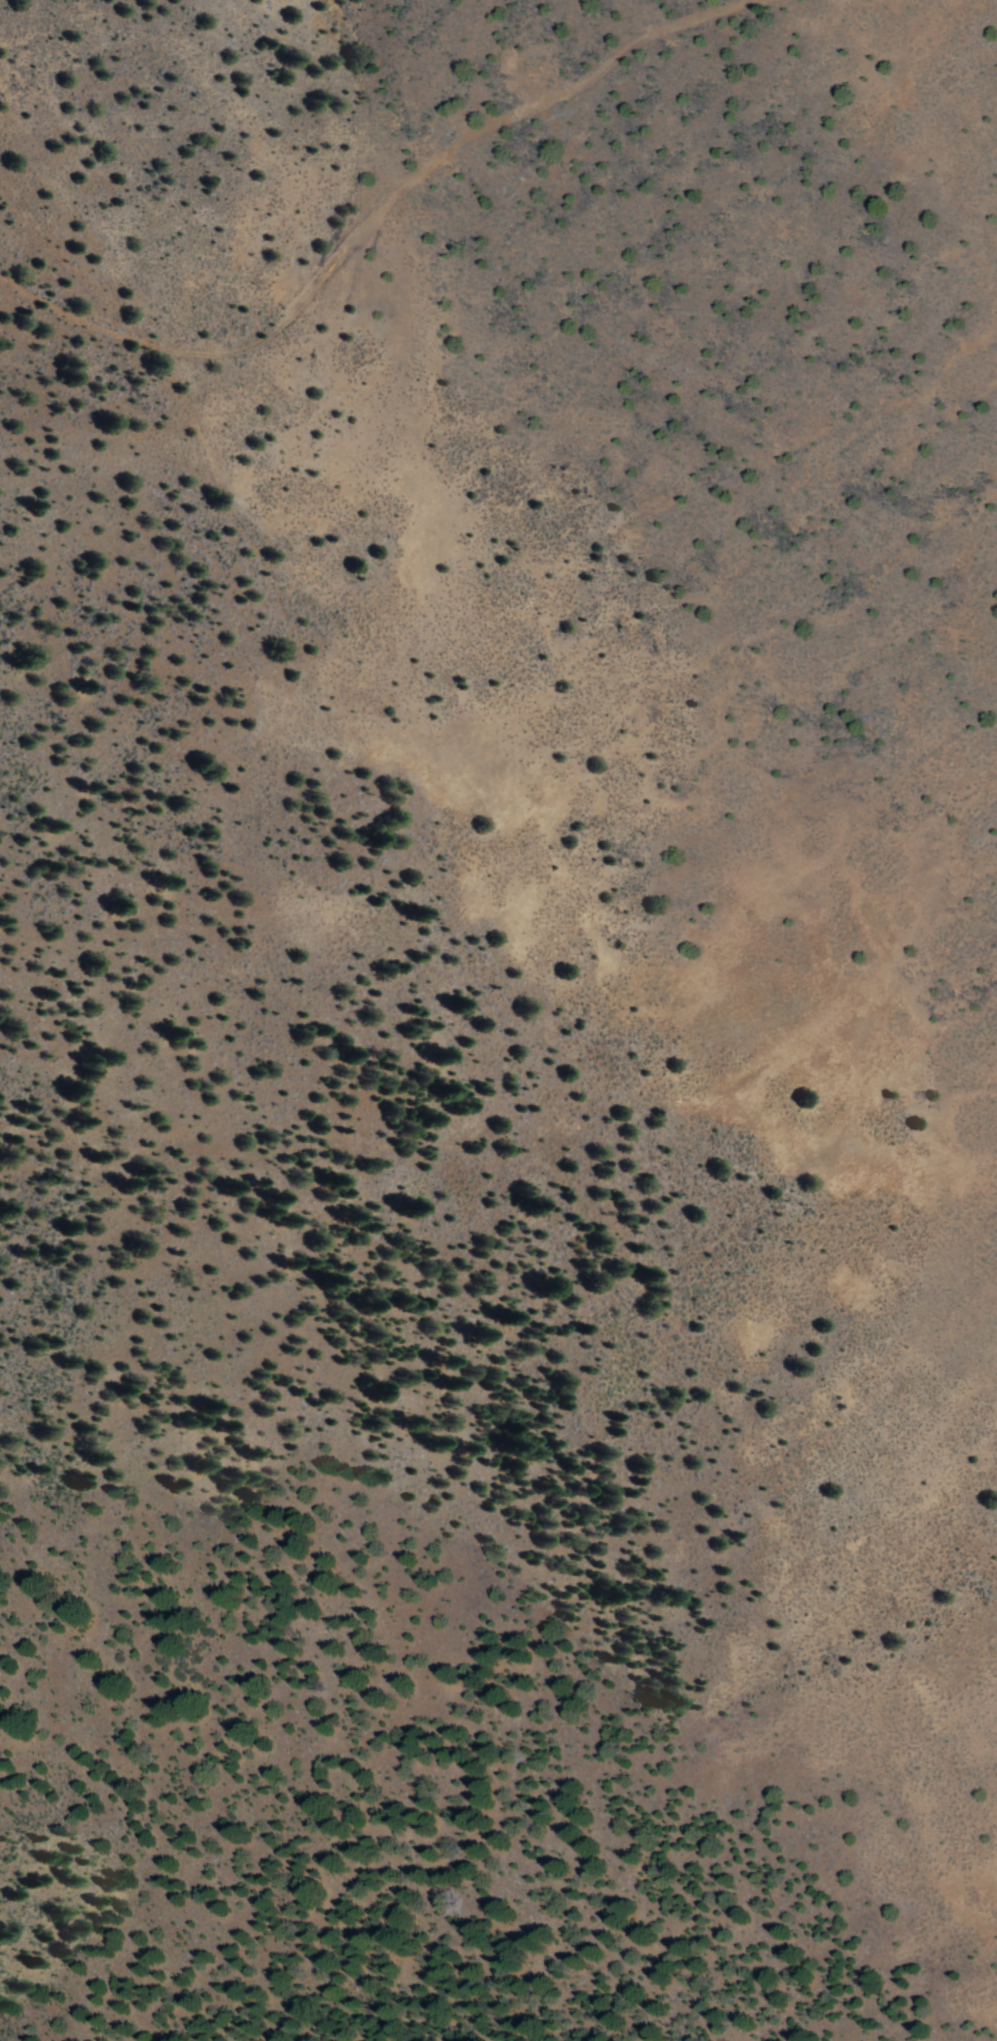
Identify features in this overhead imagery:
road: (370, 221)

